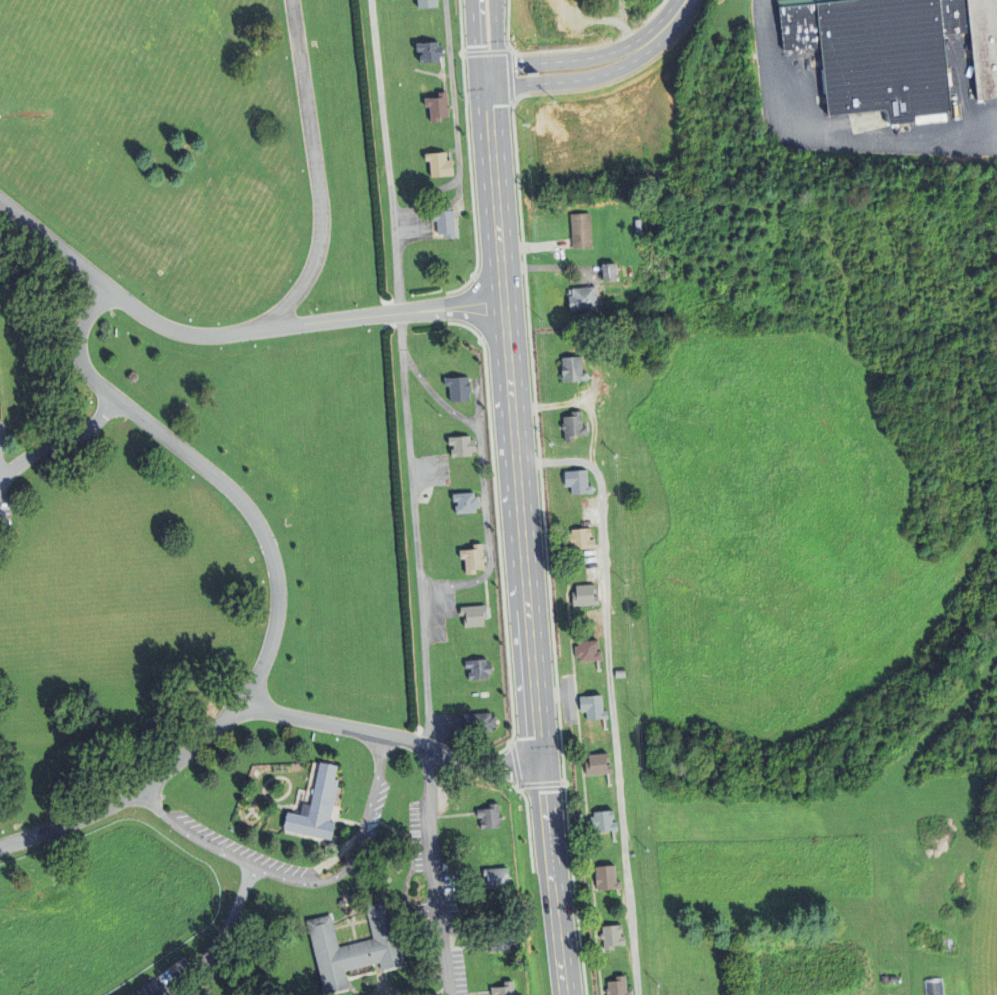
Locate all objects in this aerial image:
building: (802, 2)
building: (423, 4)
building: (952, 17)
road: (670, 21)
building: (797, 27)
building: (982, 46)
building: (426, 54)
building: (881, 57)
road: (564, 60)
traffic signals: (475, 66)
road: (570, 81)
traffic signals: (498, 86)
road: (498, 99)
road: (476, 100)
building: (434, 106)
road: (455, 127)
road: (823, 137)
road: (385, 156)
building: (437, 164)
road: (314, 173)
building: (442, 223)
building: (582, 230)
road: (498, 265)
building: (609, 272)
building: (586, 298)
road: (295, 324)
building: (574, 368)
building: (455, 388)
building: (574, 426)
road: (59, 442)
building: (457, 445)
building: (577, 482)
road: (237, 497)
building: (463, 502)
road: (415, 531)
building: (582, 539)
building: (470, 559)
building: (585, 596)
building: (471, 616)
building: (590, 651)
road: (530, 664)
building: (474, 669)
building: (620, 672)
road: (608, 687)
building: (594, 706)
building: (478, 723)
road: (395, 739)
building: (599, 764)
traffic signals: (541, 781)
road: (367, 788)
building: (492, 816)
building: (605, 820)
road: (40, 831)
road: (244, 854)
road: (433, 872)
building: (608, 876)
building: (492, 878)
building: (613, 936)
building: (352, 947)
building: (619, 986)
building: (935, 987)
building: (499, 989)

